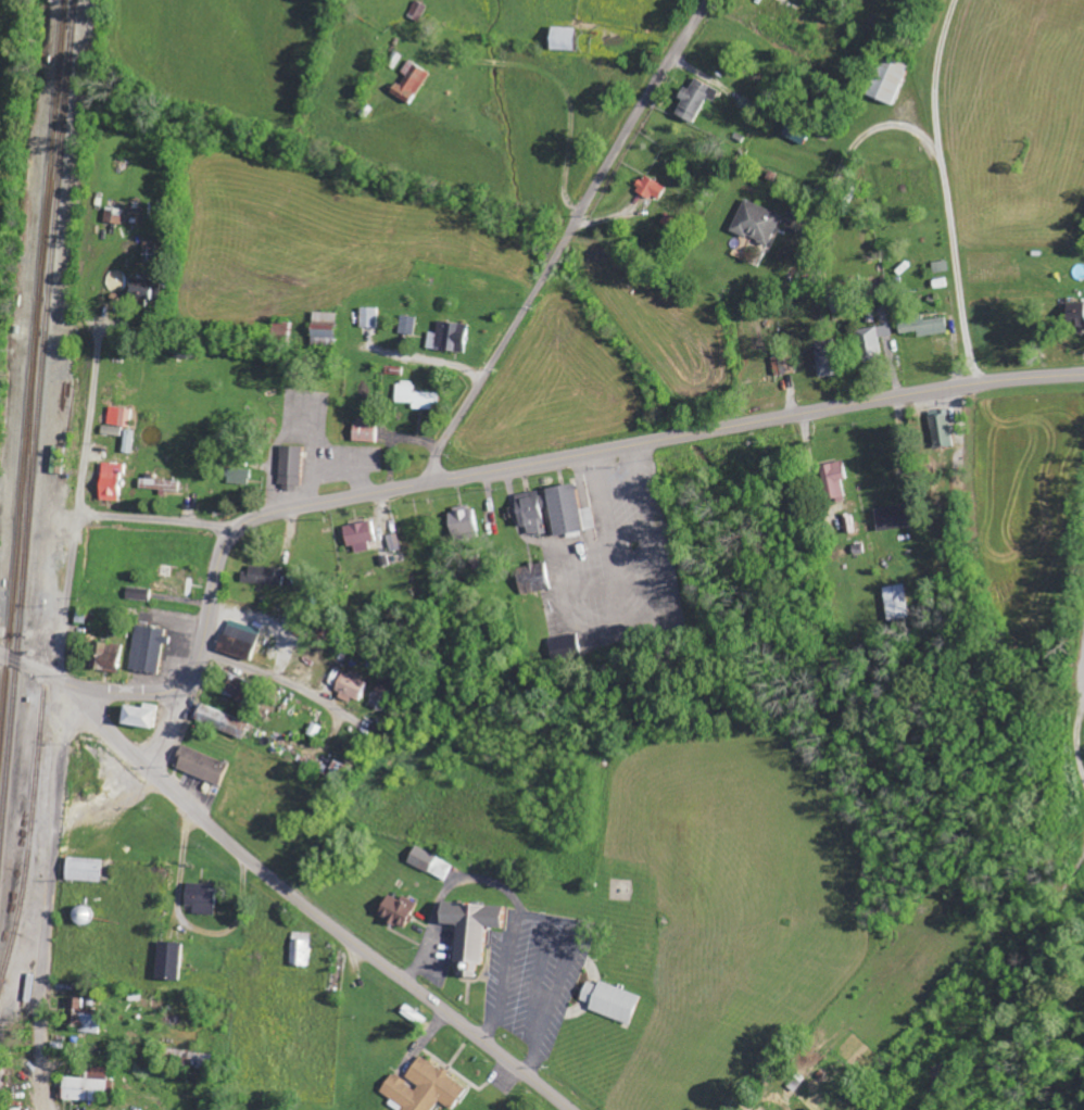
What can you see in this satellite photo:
building: (811, 0)
building: (417, 10)
building: (560, 38)
building: (886, 79)
building: (409, 83)
building: (695, 99)
building: (794, 134)
building: (650, 188)
building: (112, 215)
building: (755, 223)
road: (567, 238)
building: (138, 294)
building: (1075, 316)
building: (368, 317)
building: (407, 325)
railway: (31, 326)
building: (923, 327)
building: (322, 328)
building: (446, 337)
building: (871, 341)
building: (824, 357)
building: (786, 364)
building: (414, 396)
railway: (34, 403)
building: (118, 417)
building: (940, 428)
building: (363, 433)
building: (127, 441)
building: (290, 466)
road: (481, 470)
building: (238, 476)
building: (834, 479)
building: (110, 480)
building: (159, 484)
road: (80, 499)
building: (551, 510)
building: (892, 517)
road: (157, 520)
building: (461, 521)
building: (358, 537)
building: (393, 542)
building: (262, 576)
building: (532, 578)
building: (138, 594)
building: (895, 602)
building: (239, 640)
building: (563, 646)
building: (148, 648)
building: (104, 657)
road: (277, 678)
building: (349, 684)
building: (234, 688)
building: (135, 717)
building: (220, 721)
road: (172, 723)
road: (111, 728)
building: (200, 766)
building: (337, 772)
railway: (28, 833)
road: (53, 856)
building: (429, 863)
building: (83, 870)
building: (201, 898)
building: (396, 910)
building: (469, 930)
road: (358, 943)
building: (299, 949)
building: (168, 961)
building: (609, 1000)
building: (84, 1017)
building: (86, 1086)
building: (423, 1088)

